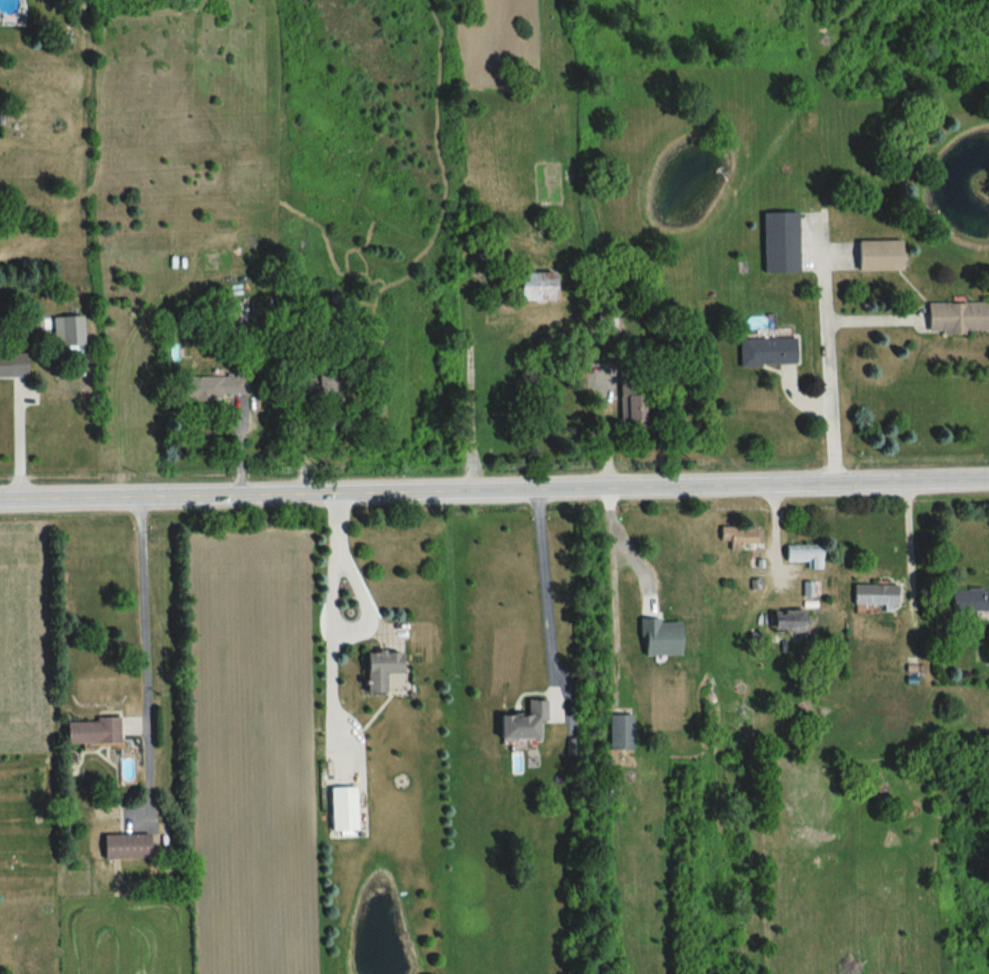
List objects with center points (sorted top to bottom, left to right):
building: (778, 243)
building: (533, 286)
building: (955, 318)
building: (608, 320)
building: (763, 352)
road: (829, 364)
building: (11, 366)
building: (212, 387)
building: (632, 411)
road: (17, 444)
road: (494, 488)
building: (739, 537)
road: (614, 540)
road: (909, 546)
building: (802, 557)
road: (337, 558)
road: (544, 575)
building: (872, 598)
road: (144, 599)
building: (968, 600)
building: (792, 621)
crop: (22, 637)
building: (659, 638)
building: (376, 671)
building: (521, 726)
building: (89, 731)
building: (618, 733)
crop: (251, 753)
building: (342, 810)
building: (124, 847)

